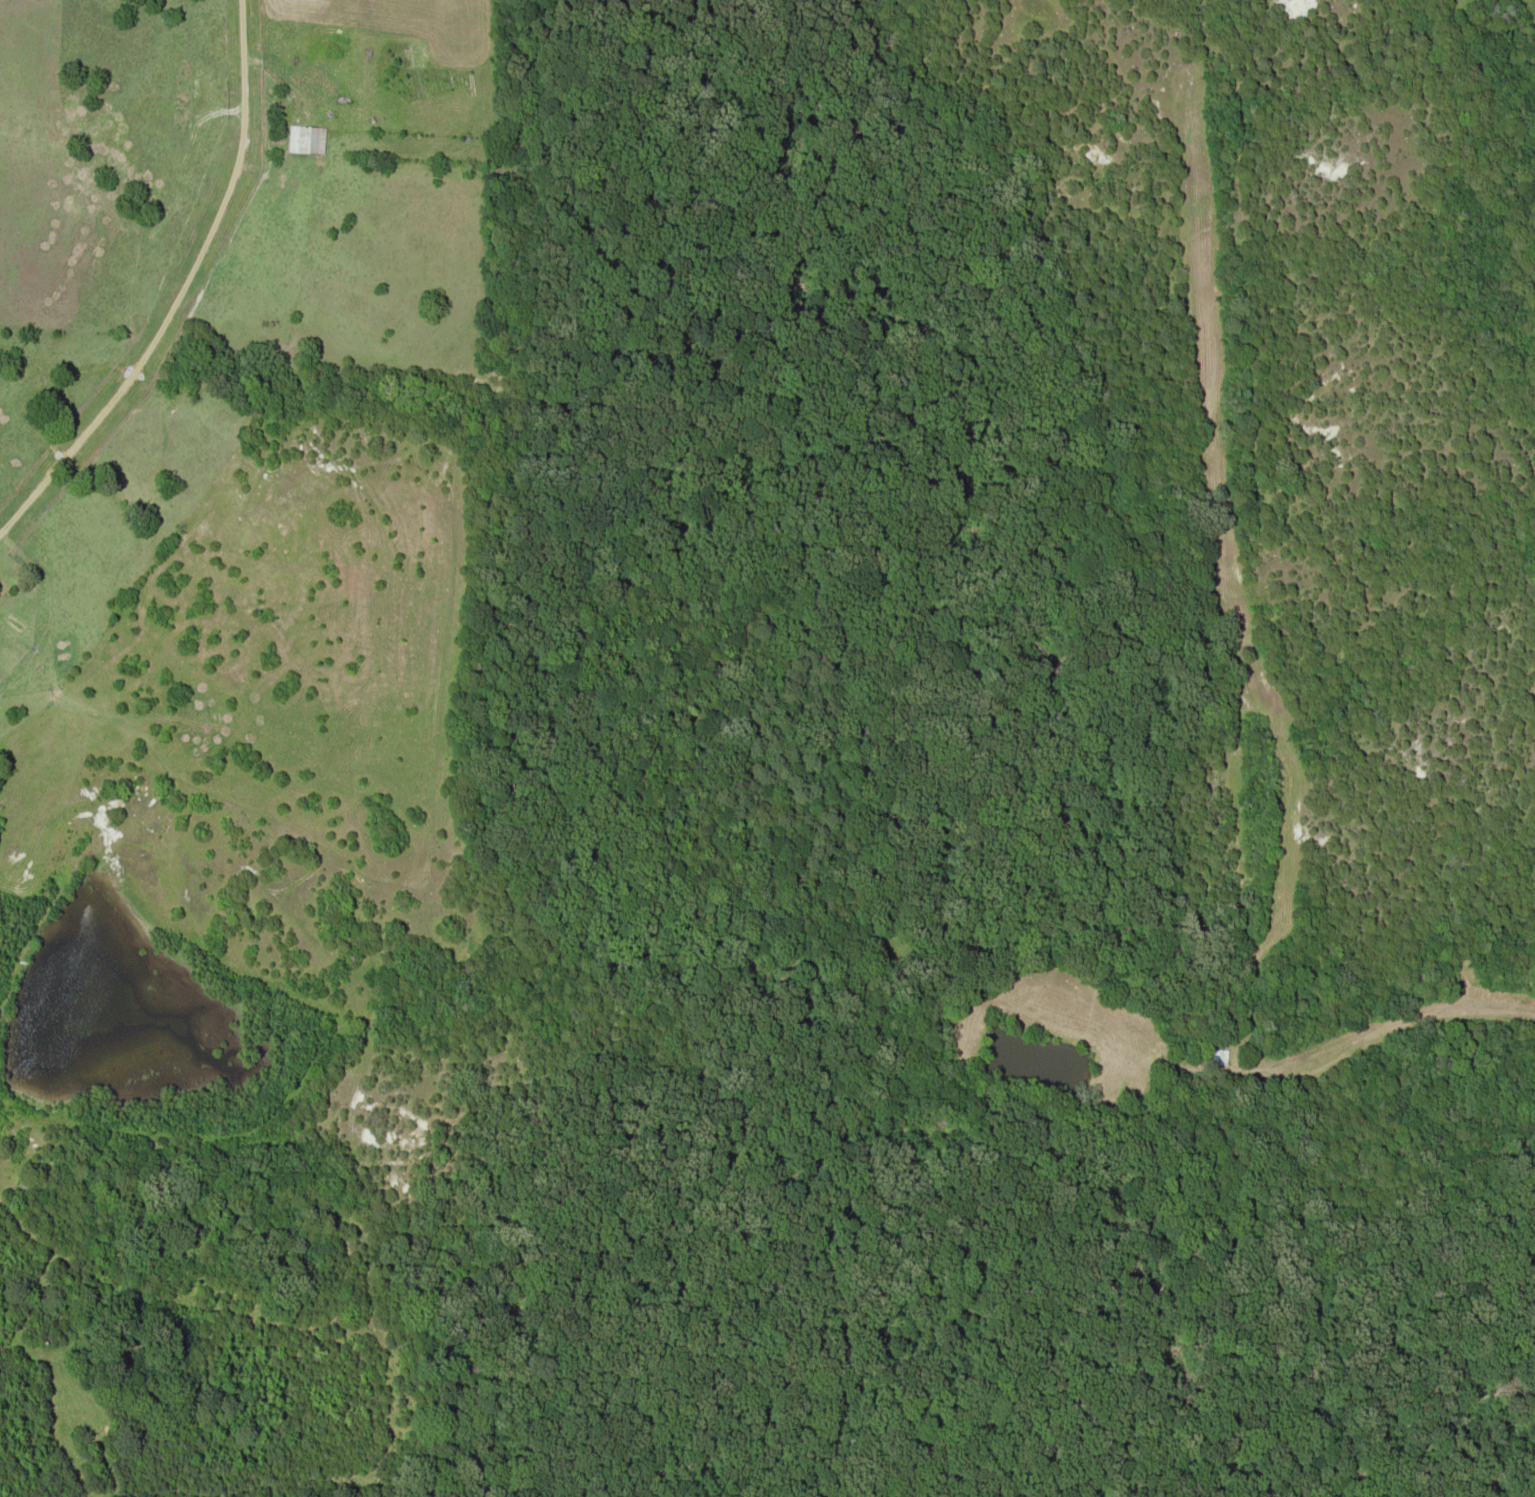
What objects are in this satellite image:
building: (306, 139)
building: (1218, 1056)

